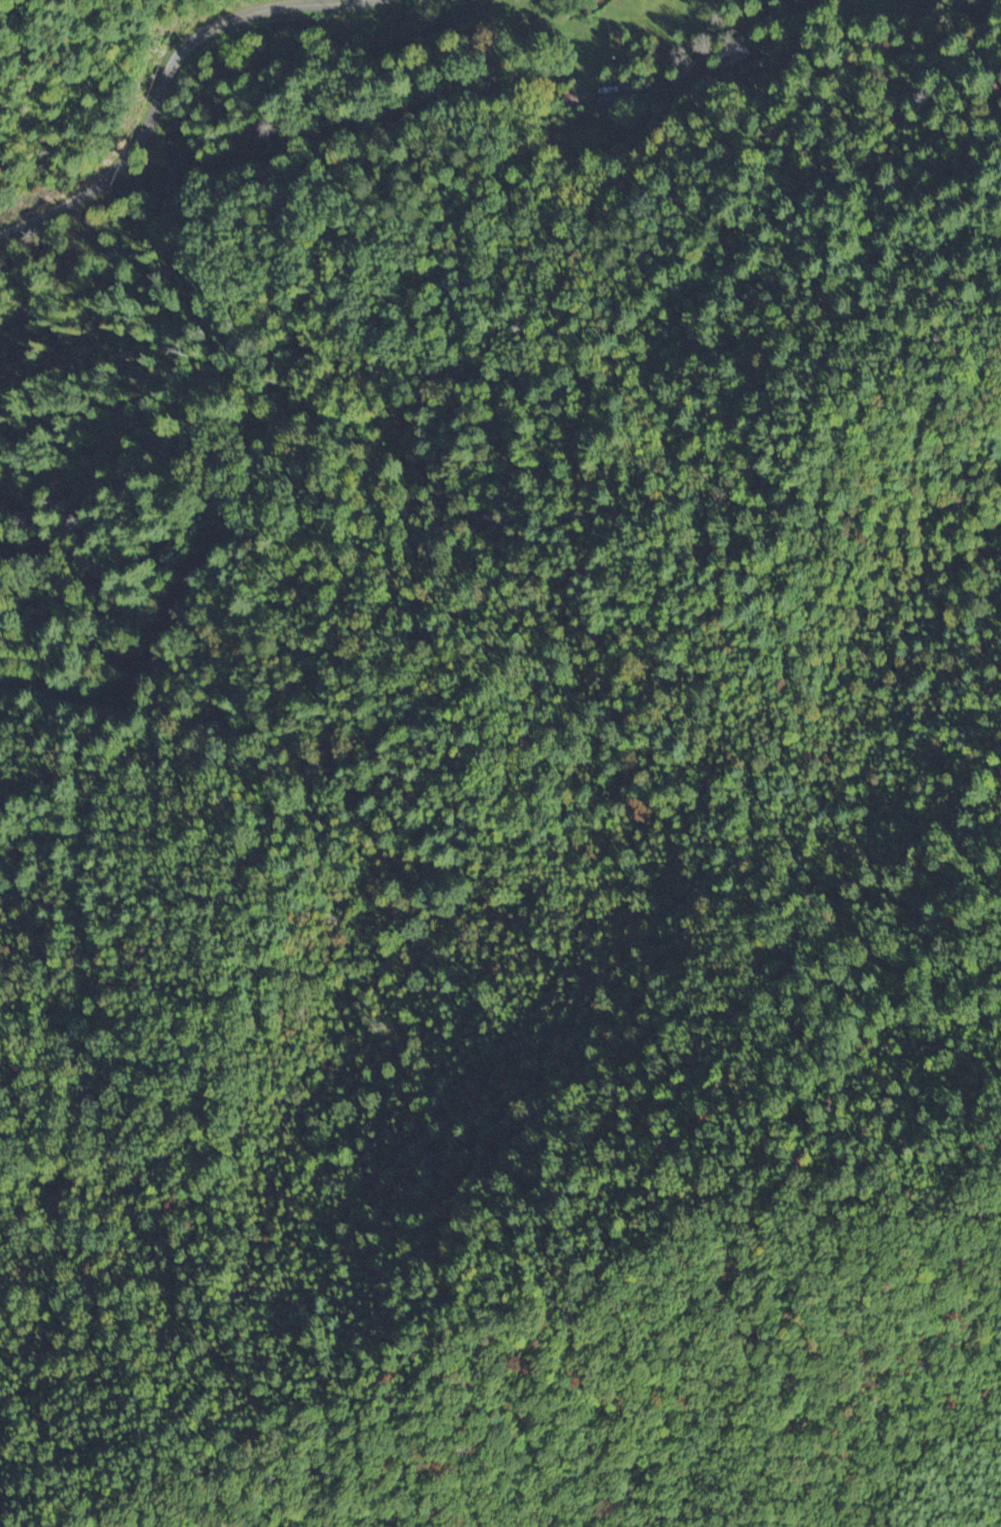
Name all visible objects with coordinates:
road: (161, 82)
building: (609, 102)

